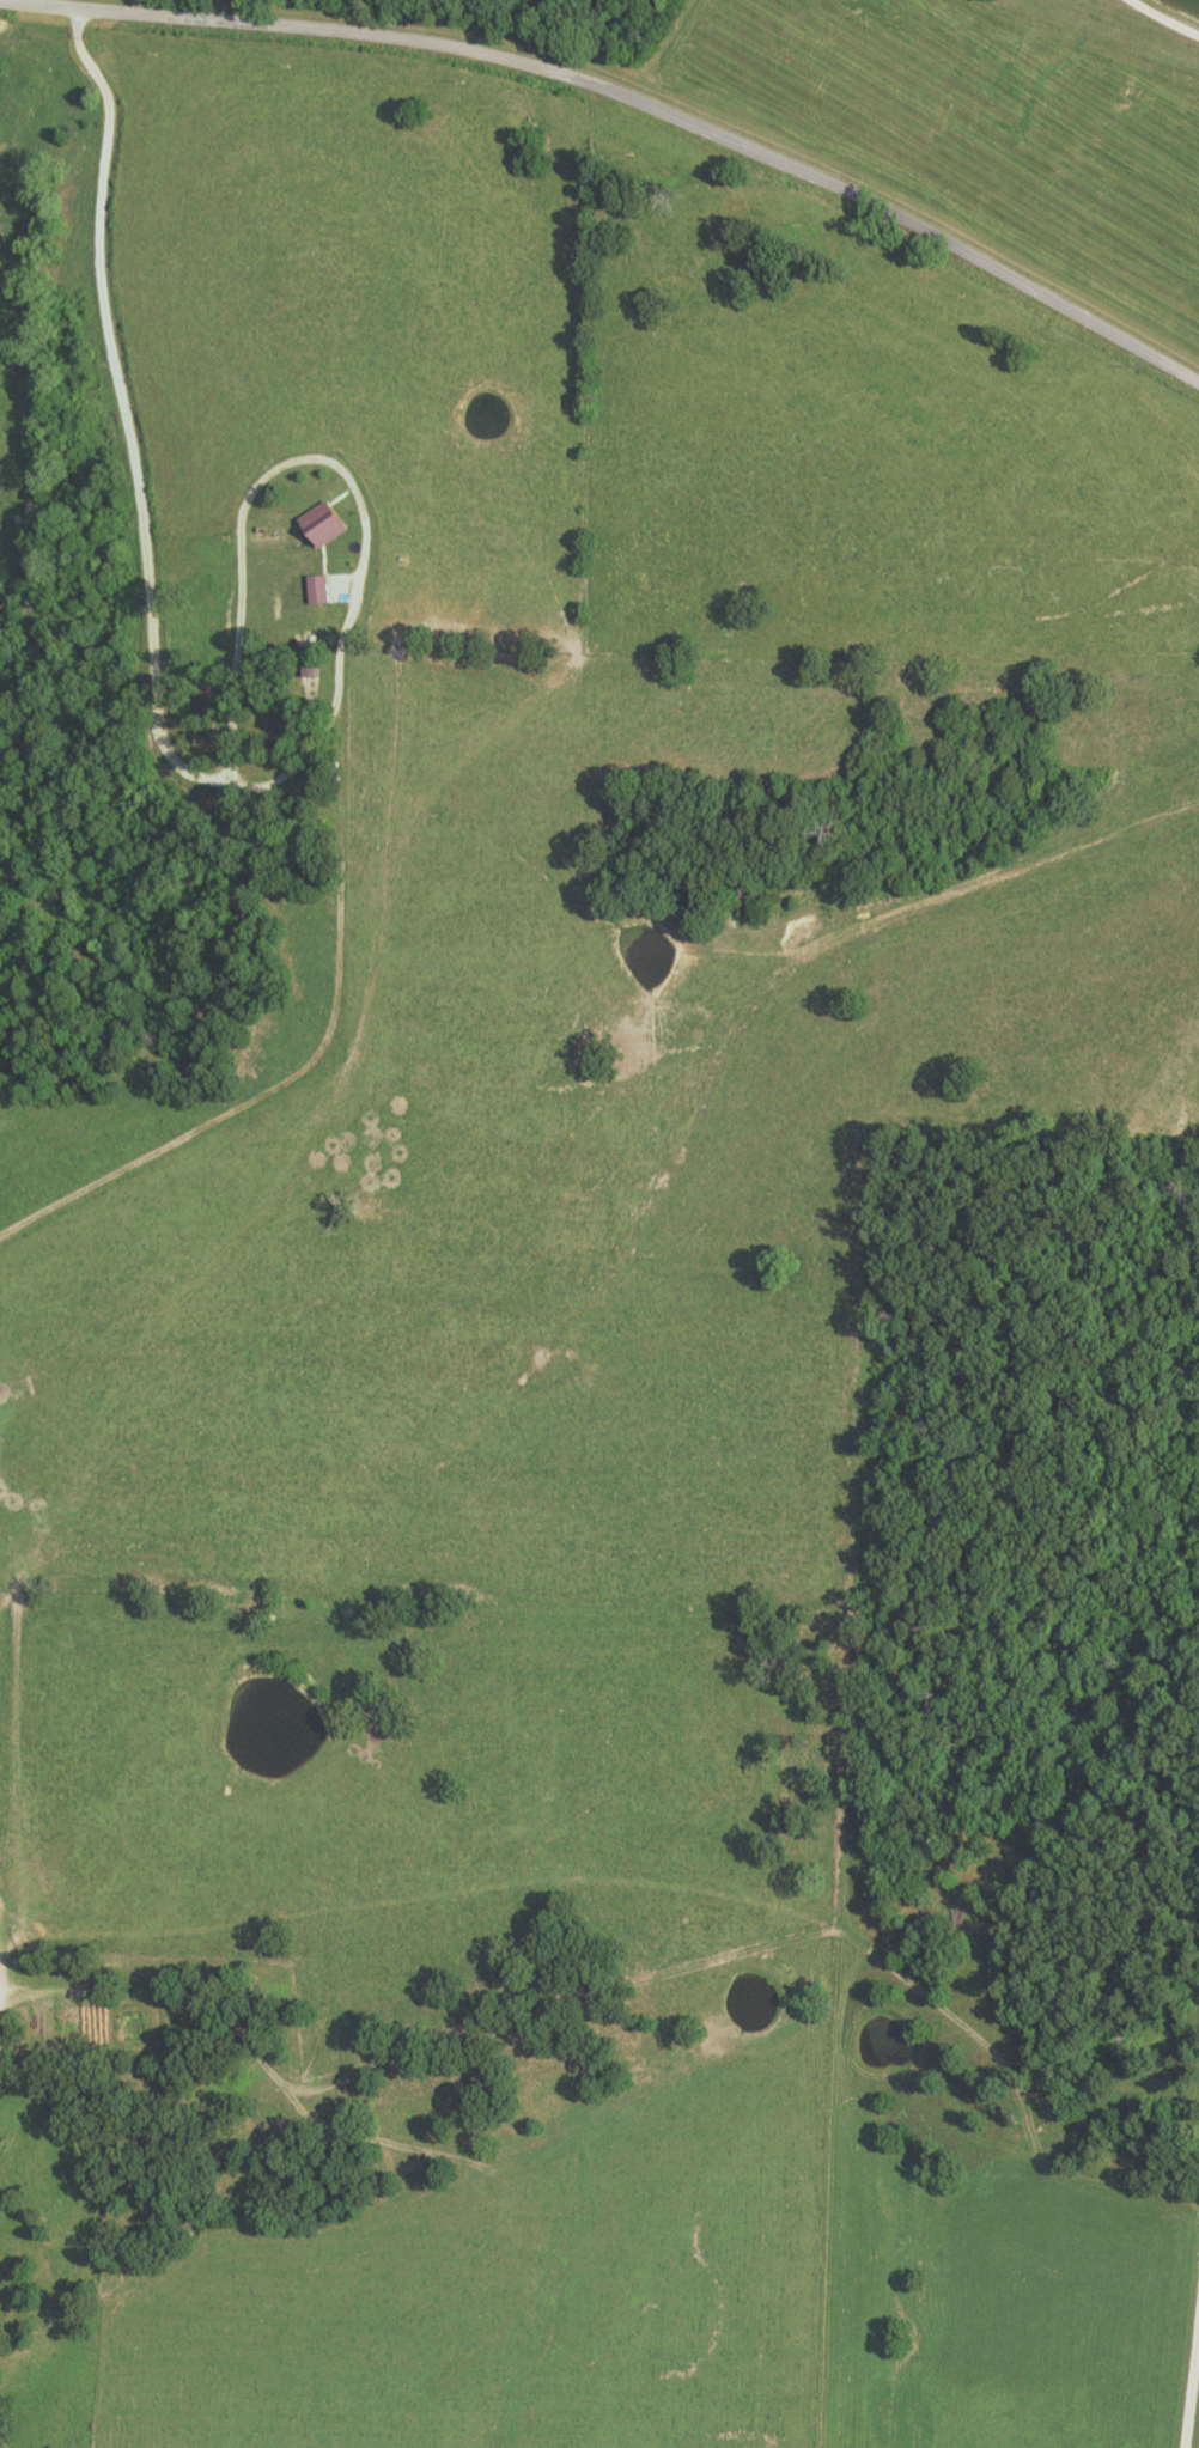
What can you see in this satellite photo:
road: (629, 97)
building: (321, 524)
building: (316, 589)
road: (783, 652)
road: (208, 778)
road: (1188, 2357)

